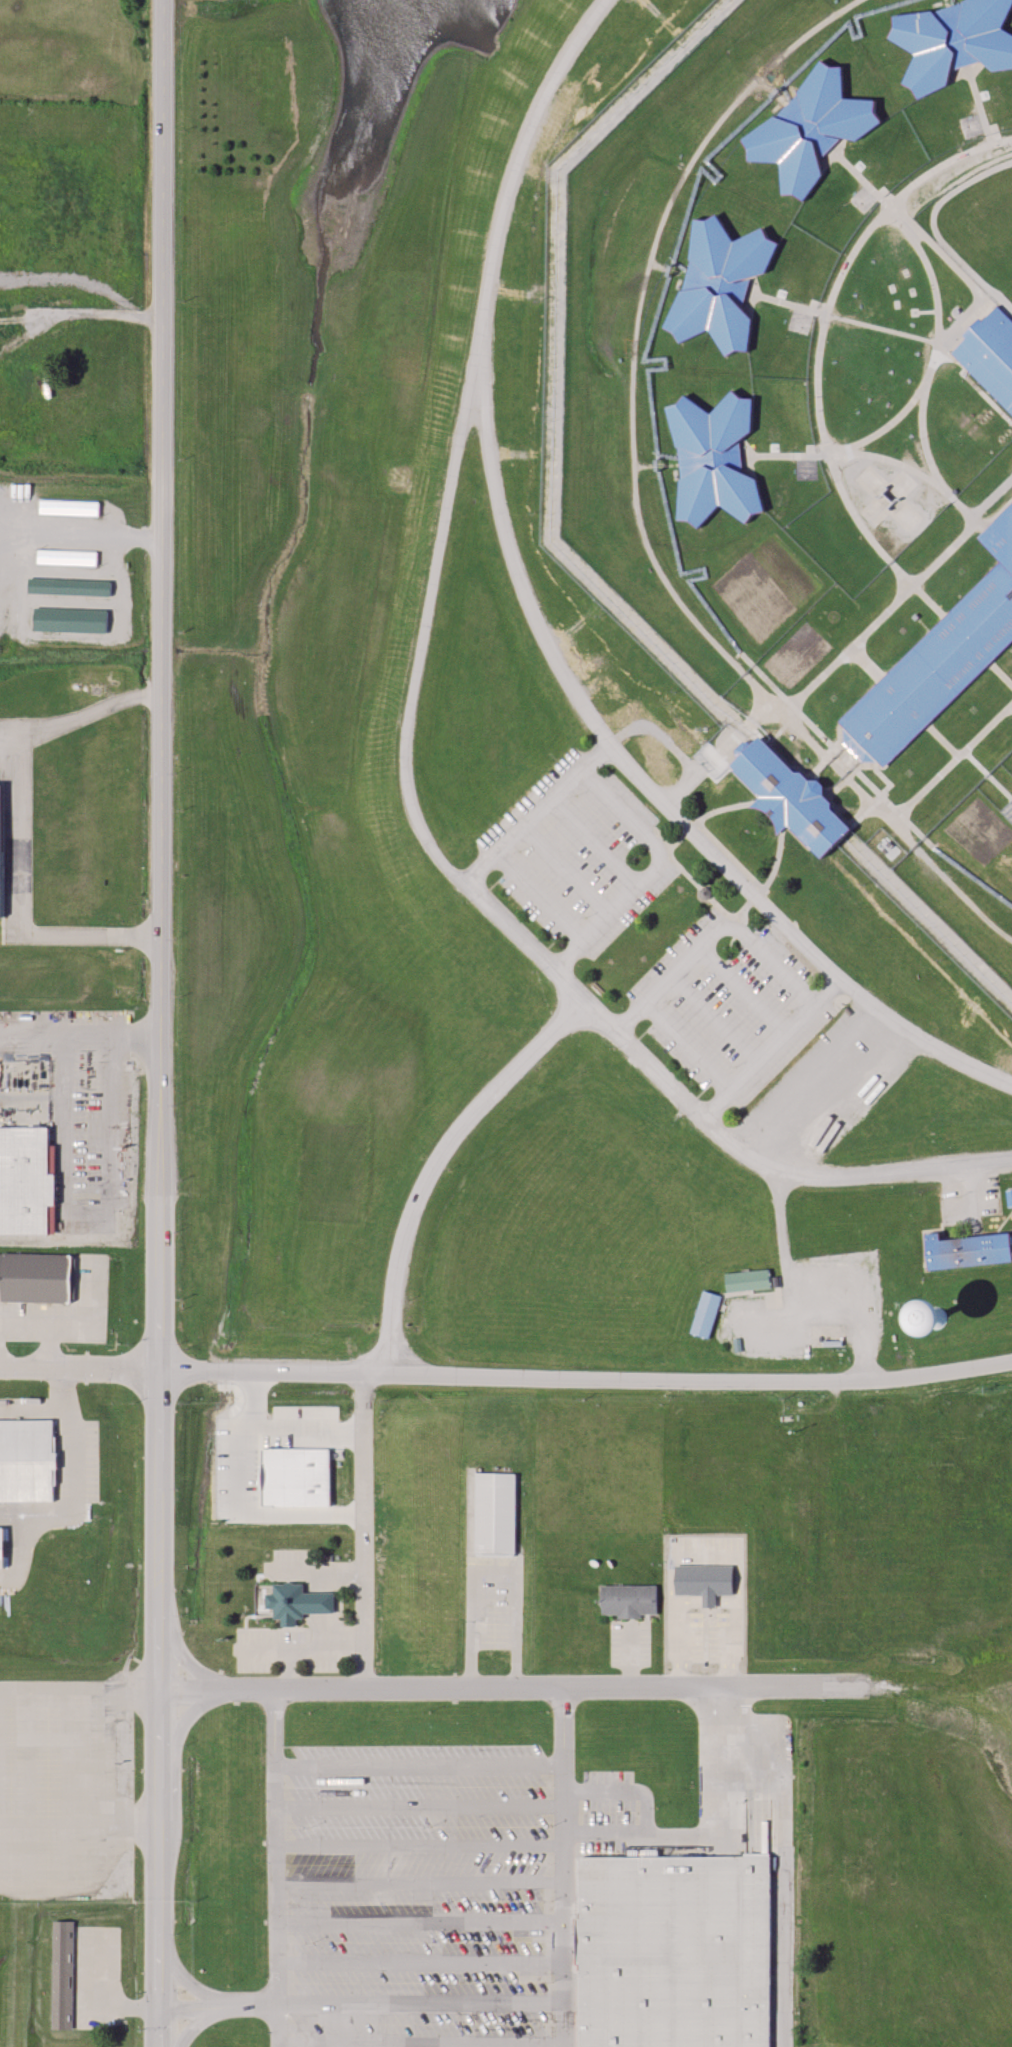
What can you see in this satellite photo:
building: (954, 40)
road: (979, 104)
building: (809, 128)
park: (982, 224)
building: (718, 284)
road: (936, 308)
road: (636, 314)
road: (933, 341)
road: (815, 350)
building: (991, 354)
road: (847, 445)
building: (712, 459)
road: (891, 461)
building: (68, 509)
road: (53, 536)
road: (144, 538)
building: (66, 559)
road: (856, 637)
building: (940, 656)
road: (864, 662)
road: (1000, 675)
road: (764, 678)
road: (755, 688)
road: (785, 709)
road: (940, 740)
road: (950, 759)
road: (829, 762)
road: (406, 763)
road: (706, 765)
road: (643, 782)
road: (877, 793)
building: (790, 796)
road: (535, 812)
road: (20, 832)
road: (593, 843)
road: (566, 869)
road: (650, 874)
road: (960, 894)
road: (538, 896)
road: (712, 934)
road: (743, 990)
road: (715, 1018)
road: (159, 1023)
road: (686, 1047)
road: (773, 1047)
road: (435, 1162)
building: (25, 1179)
building: (967, 1250)
building: (37, 1276)
building: (747, 1280)
building: (705, 1314)
water tower: (934, 1314)
road: (78, 1364)
road: (584, 1375)
road: (65, 1409)
road: (33, 1410)
building: (26, 1460)
building: (494, 1513)
road: (17, 1519)
road: (365, 1529)
building: (2, 1547)
road: (21, 1557)
road: (493, 1567)
building: (704, 1583)
building: (628, 1601)
building: (297, 1603)
road: (705, 1620)
road: (318, 1642)
road: (513, 1686)
road: (82, 1690)
road: (564, 1763)
road: (107, 1765)
road: (421, 1767)
road: (68, 1789)
road: (28, 1791)
road: (623, 1792)
road: (726, 1803)
road: (421, 1806)
road: (53, 1819)
road: (608, 1834)
road: (570, 1837)
road: (421, 1842)
road: (278, 1843)
road: (422, 1881)
road: (96, 1884)
parking lot: (431, 1889)
road: (423, 1921)
road: (564, 1922)
building: (674, 1951)
road: (423, 1962)
building: (63, 1976)
road: (208, 1993)
road: (221, 2001)
road: (424, 2001)
traffic signals: (160, 2004)
road: (223, 2012)
road: (282, 2023)
road: (565, 2025)
road: (423, 2042)

